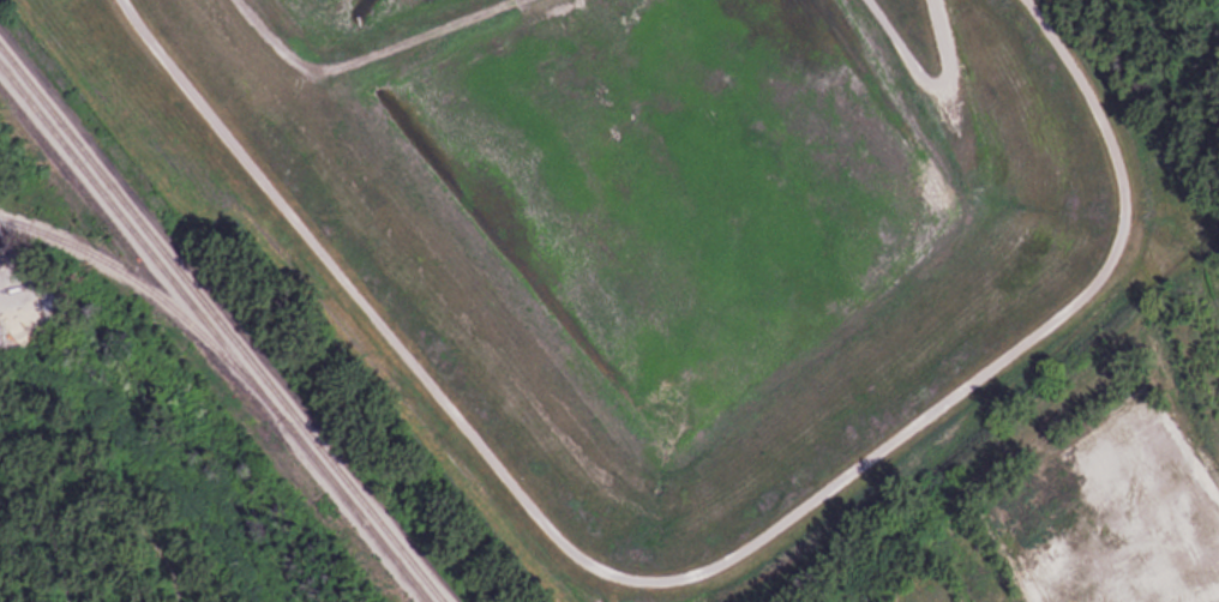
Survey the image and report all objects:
railway: (131, 276)
railway: (223, 321)
railway: (214, 335)
building: (1109, 466)

